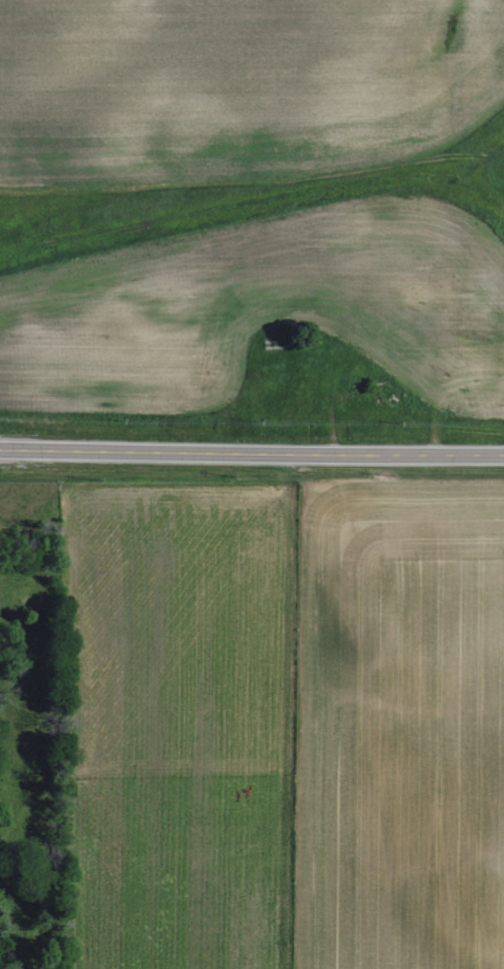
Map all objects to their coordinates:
road: (252, 451)

